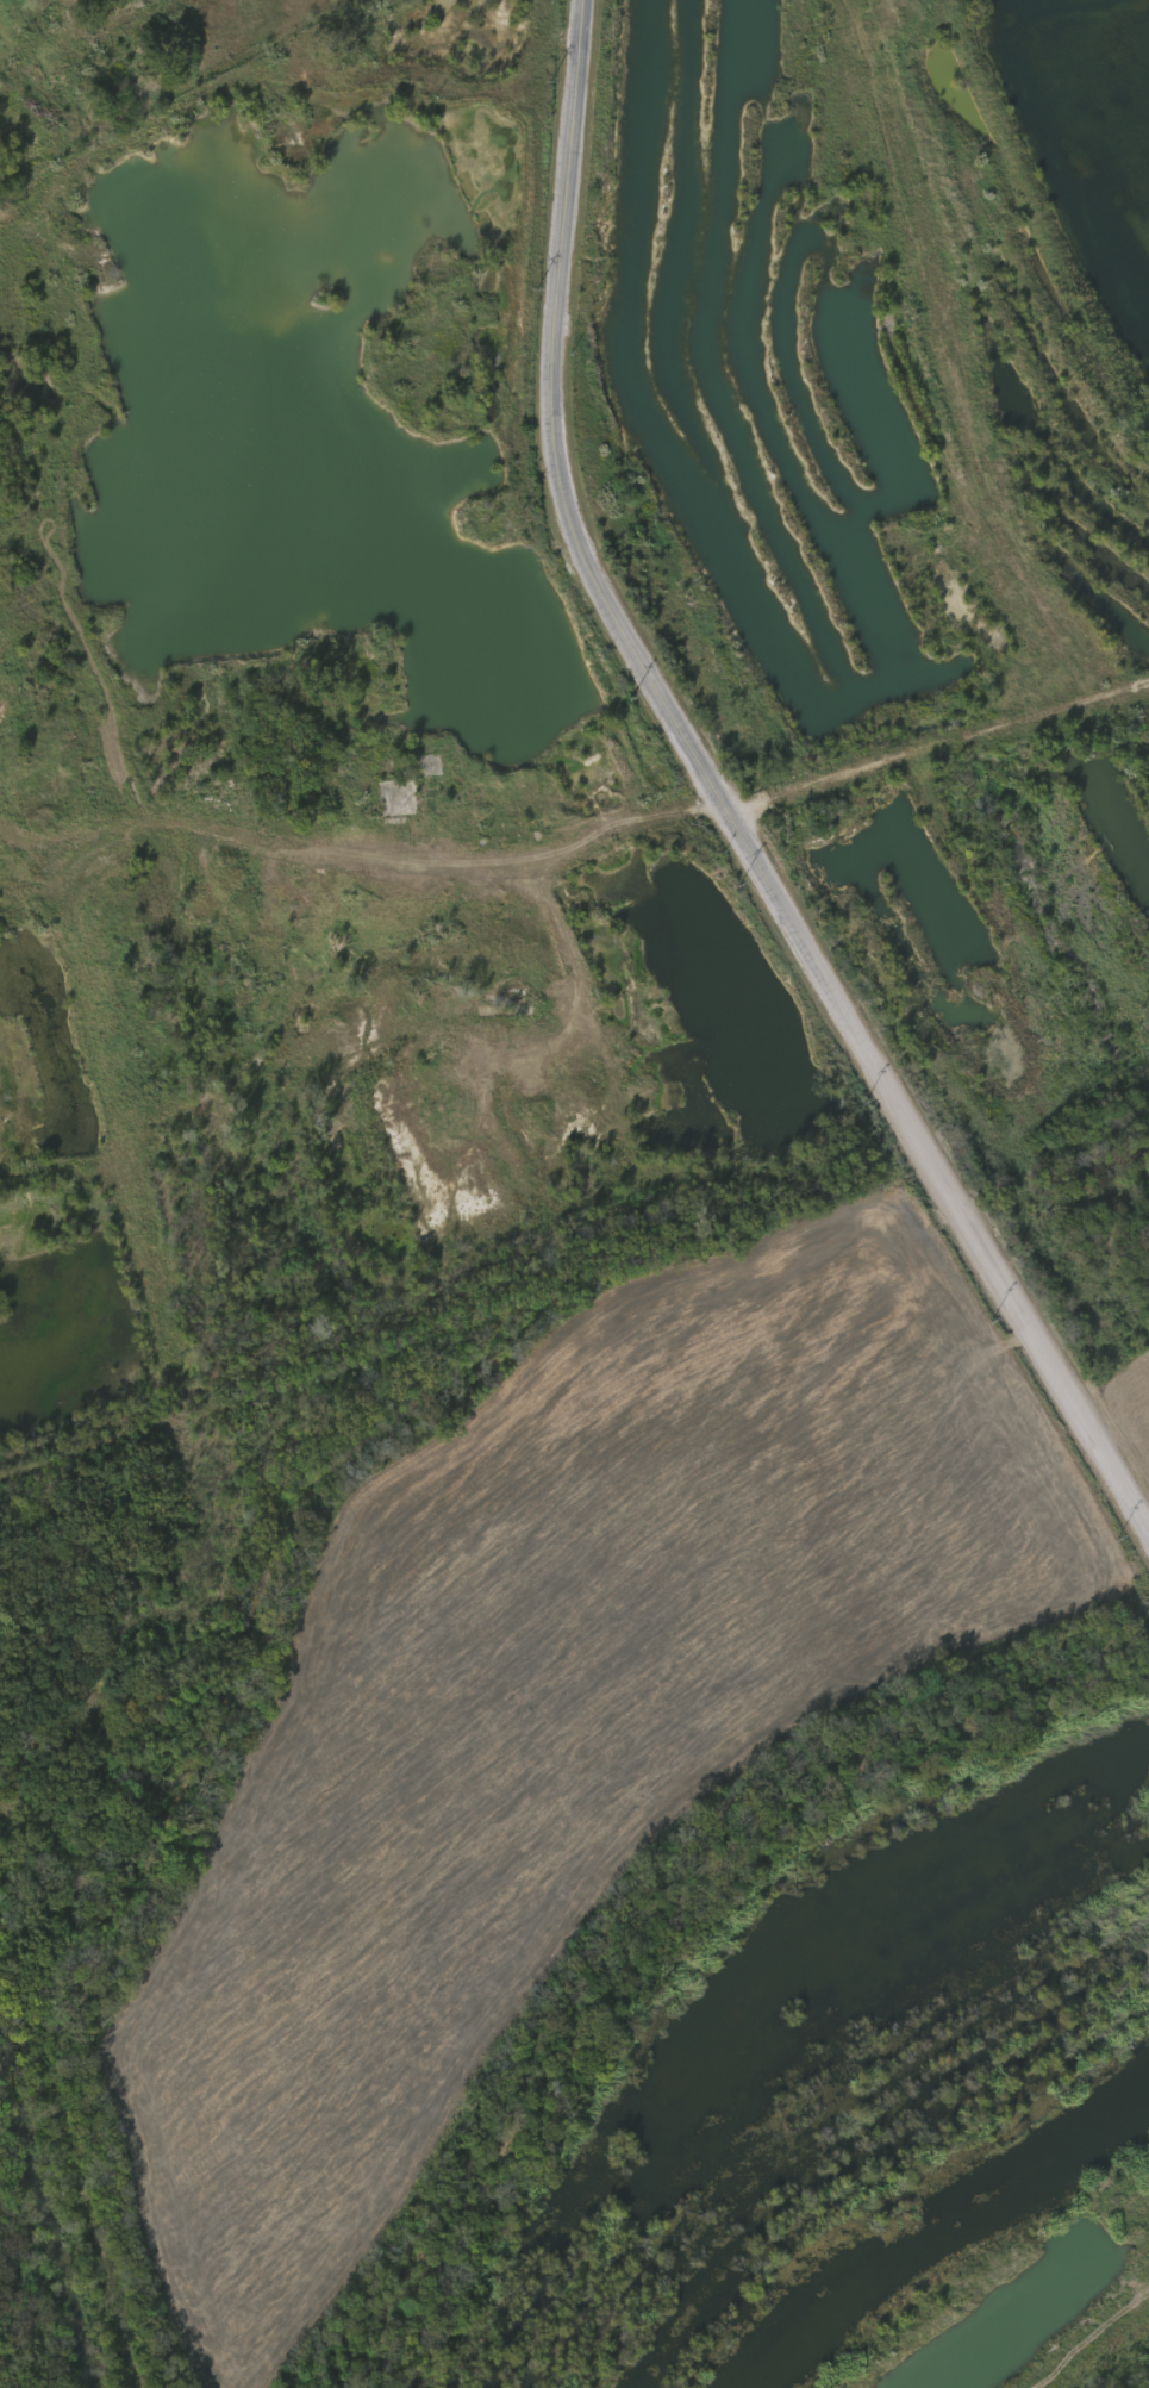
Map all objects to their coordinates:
road: (543, 40)
crop: (953, 717)
road: (942, 747)
road: (726, 796)
building: (398, 798)
road: (560, 861)
crop: (631, 1770)
crop: (868, 2238)

